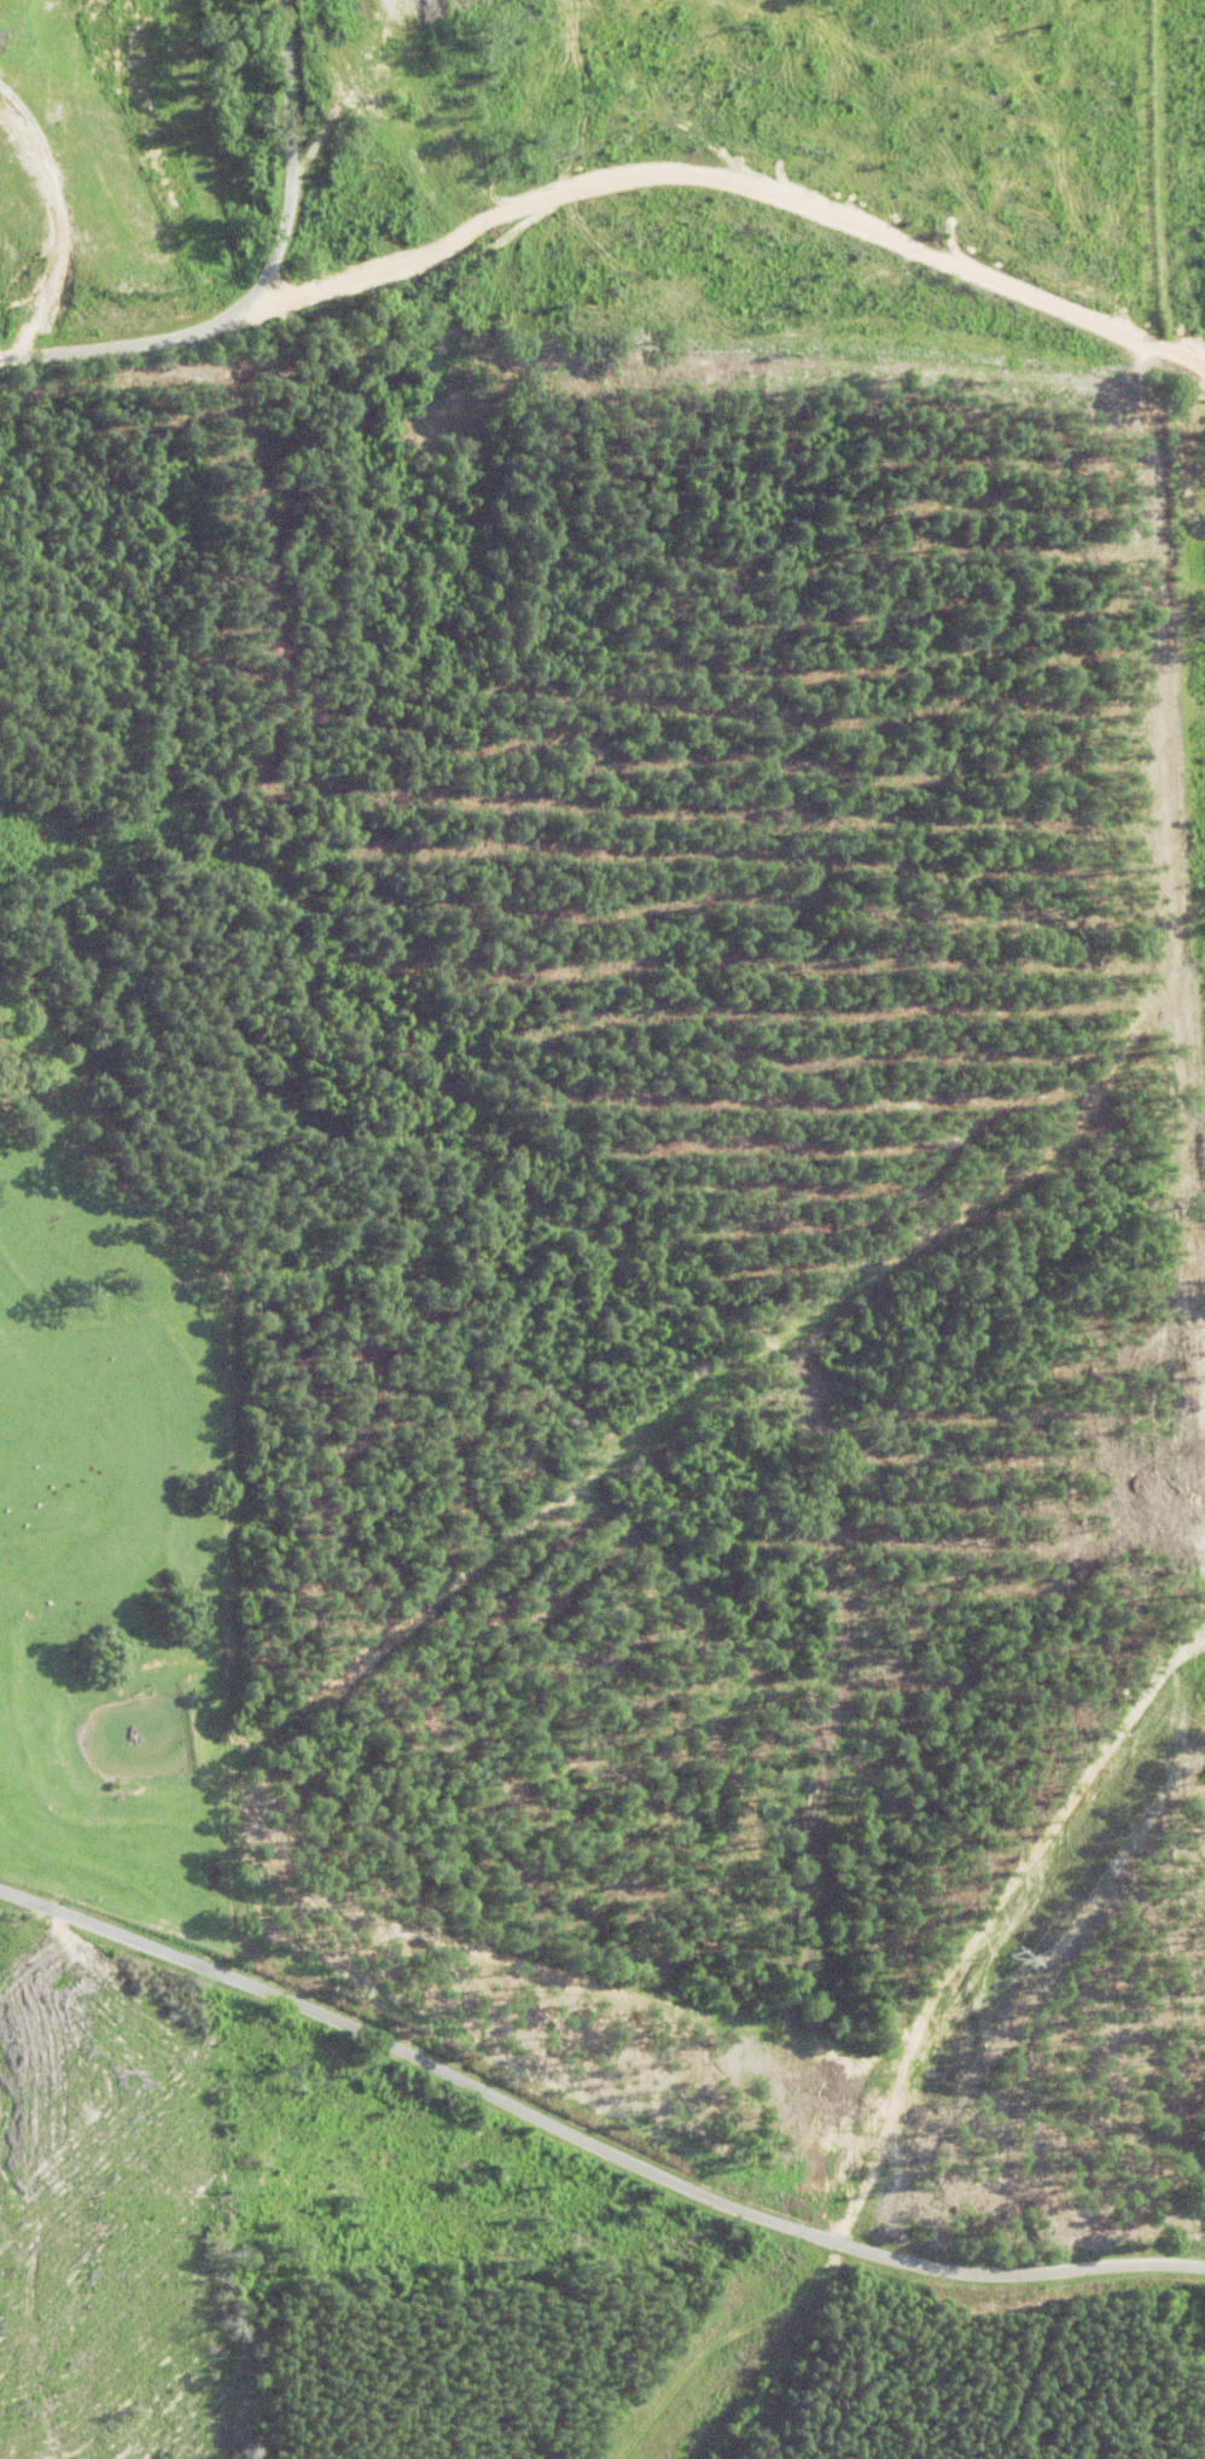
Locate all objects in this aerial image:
road: (219, 238)
power tower: (990, 1952)
road: (389, 2047)
road: (985, 2271)

